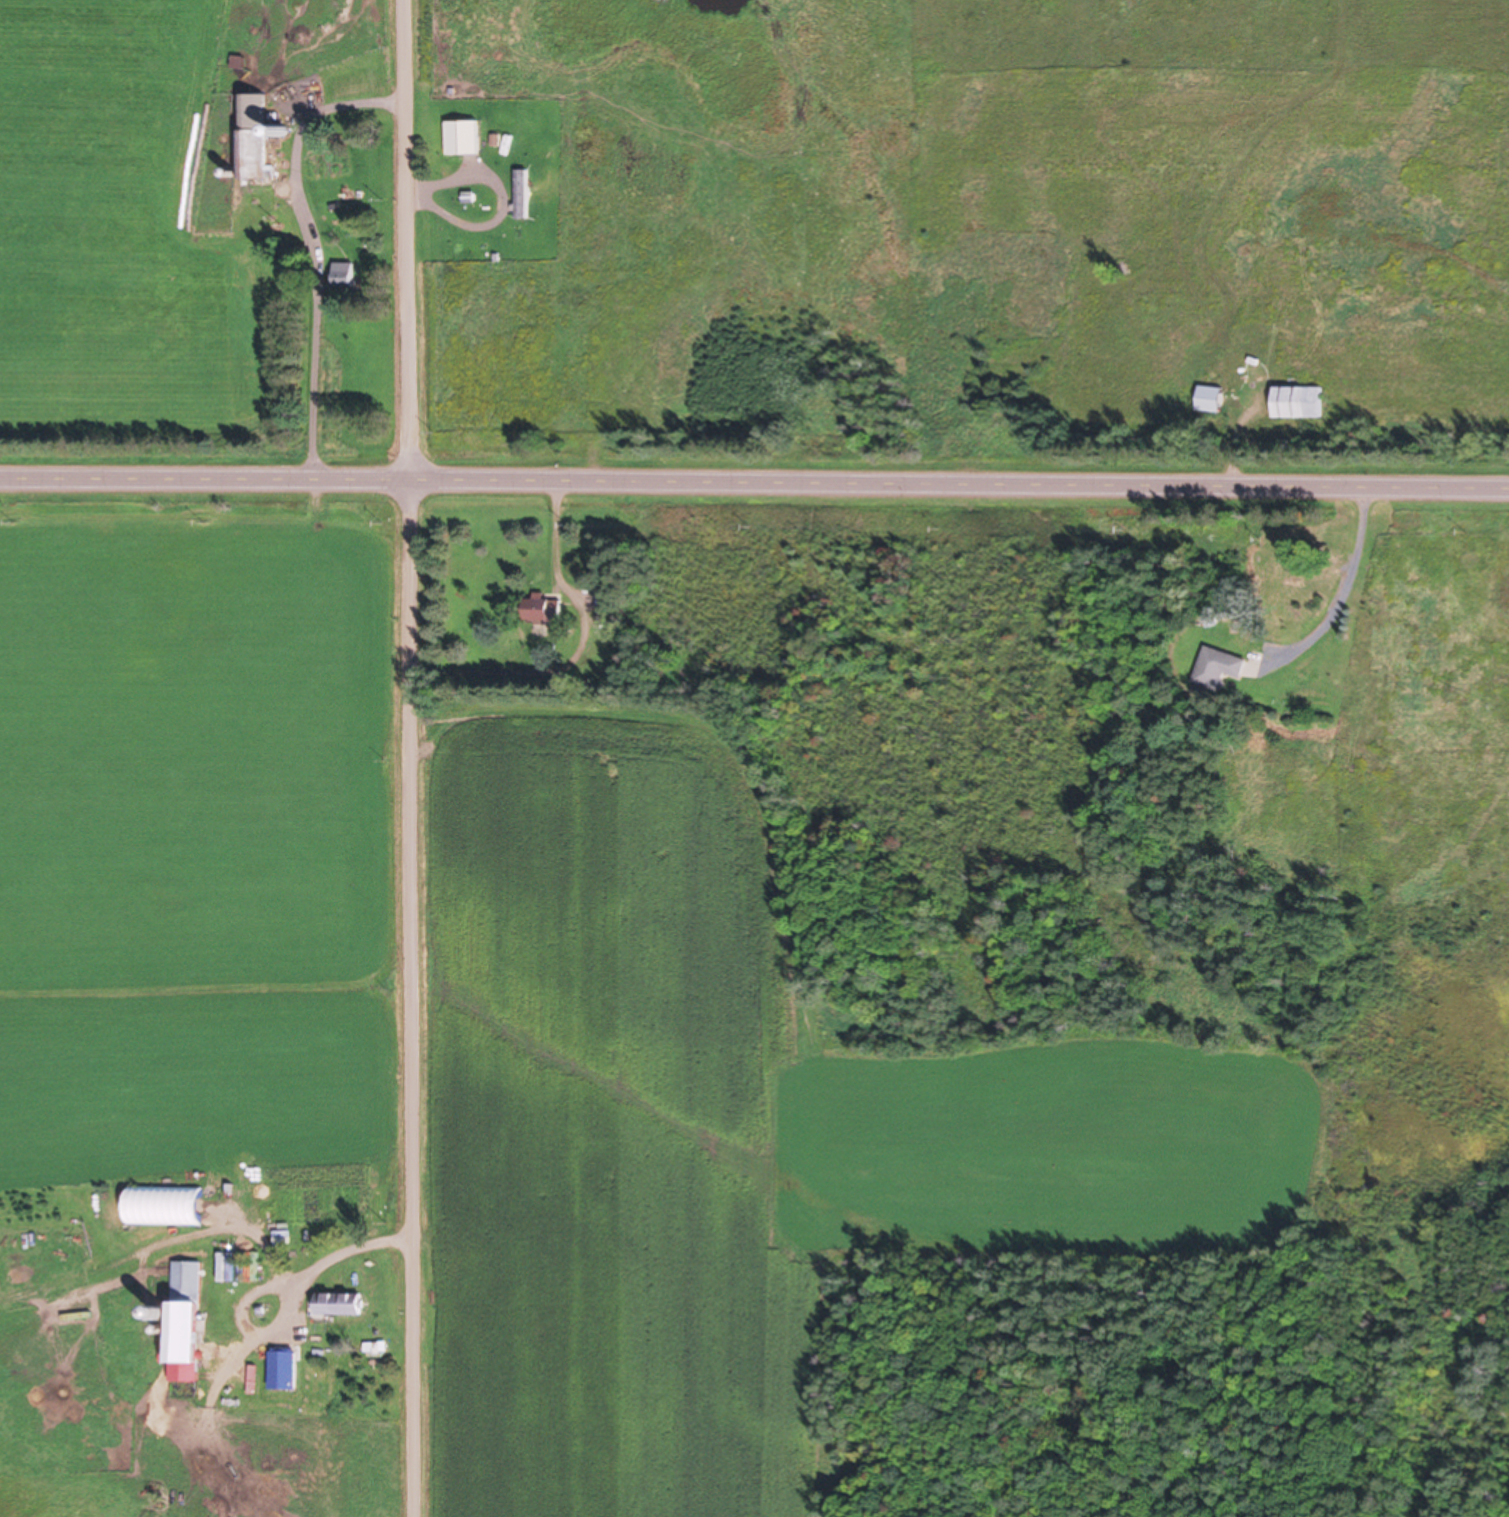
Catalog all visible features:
building: (234, 66)
building: (248, 138)
building: (458, 140)
building: (519, 197)
building: (339, 276)
road: (754, 487)
building: (605, 597)
building: (539, 610)
building: (1221, 670)
road: (409, 758)
building: (161, 1208)
building: (338, 1306)
building: (182, 1324)

